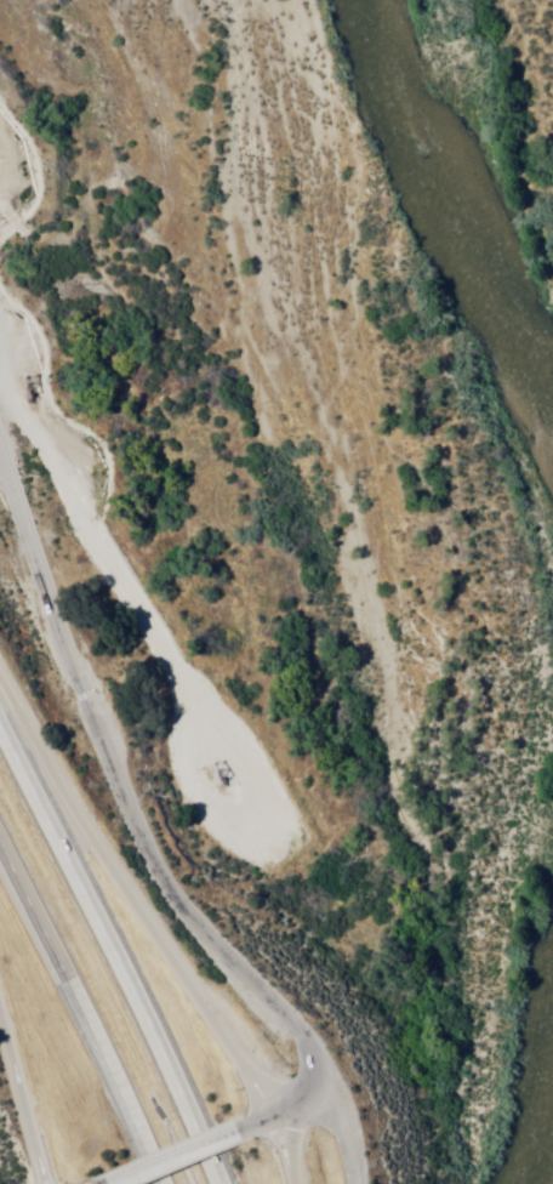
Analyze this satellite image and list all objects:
river: (475, 238)
road: (154, 864)
road: (135, 899)
road: (108, 958)
road: (85, 1008)
road: (23, 1112)
road: (280, 1112)
road: (279, 1151)
road: (178, 1159)

